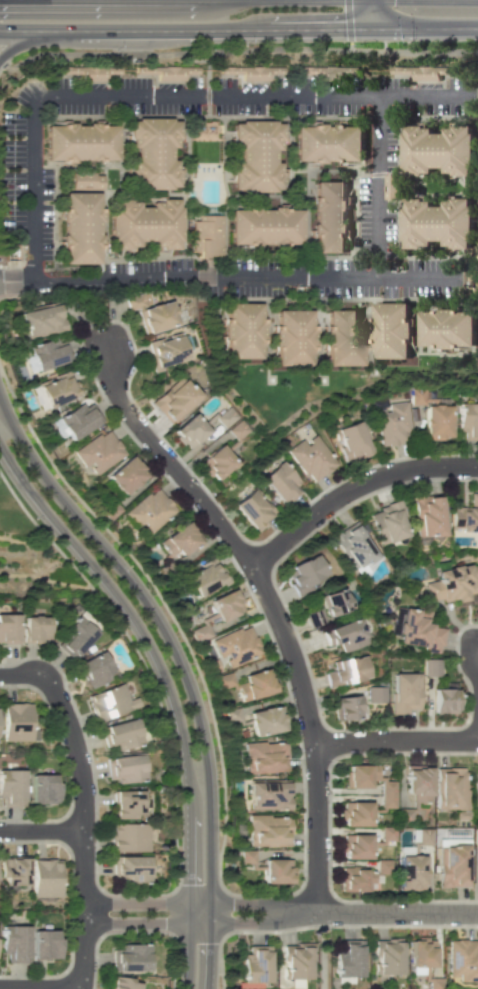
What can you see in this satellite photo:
road: (371, 14)
road: (347, 25)
traffic signals: (371, 28)
road: (424, 28)
road: (185, 29)
road: (30, 39)
street lamp: (115, 50)
road: (413, 51)
road: (177, 52)
road: (4, 64)
building: (168, 72)
building: (248, 72)
building: (424, 72)
road: (205, 92)
road: (419, 92)
park: (476, 126)
building: (204, 130)
building: (329, 141)
building: (80, 142)
building: (443, 146)
building: (152, 151)
building: (254, 151)
building: (86, 181)
building: (332, 214)
building: (145, 223)
building: (263, 223)
building: (441, 223)
building: (81, 224)
building: (205, 234)
road: (226, 276)
building: (150, 312)
building: (41, 320)
building: (241, 325)
building: (397, 327)
building: (449, 327)
building: (293, 333)
building: (345, 334)
building: (165, 351)
building: (49, 353)
building: (57, 389)
building: (419, 397)
building: (175, 400)
building: (224, 417)
building: (79, 419)
building: (468, 421)
building: (435, 422)
building: (392, 425)
building: (237, 429)
building: (189, 431)
building: (350, 441)
building: (98, 451)
building: (310, 458)
building: (216, 462)
road: (172, 465)
road: (4, 466)
building: (126, 474)
building: (281, 483)
road: (352, 488)
building: (253, 509)
building: (150, 510)
building: (428, 515)
building: (465, 516)
building: (387, 522)
building: (177, 541)
building: (355, 548)
park: (31, 558)
building: (304, 574)
building: (205, 577)
building: (452, 584)
building: (225, 605)
building: (329, 606)
building: (8, 628)
building: (34, 629)
building: (418, 630)
building: (345, 635)
building: (74, 637)
building: (235, 645)
building: (430, 667)
building: (94, 669)
road: (181, 670)
building: (346, 671)
road: (18, 674)
building: (255, 684)
road: (168, 691)
building: (404, 692)
building: (444, 700)
building: (110, 702)
building: (345, 707)
building: (232, 715)
building: (265, 720)
building: (16, 722)
road: (312, 734)
building: (120, 735)
road: (396, 742)
building: (264, 757)
building: (124, 768)
building: (356, 784)
building: (417, 784)
building: (11, 787)
building: (475, 787)
building: (43, 788)
building: (450, 788)
building: (268, 795)
building: (127, 804)
building: (354, 813)
road: (81, 825)
road: (41, 831)
building: (268, 831)
building: (423, 836)
building: (128, 837)
building: (475, 837)
building: (355, 846)
building: (246, 856)
building: (452, 865)
building: (130, 869)
building: (13, 870)
building: (276, 871)
building: (410, 872)
building: (362, 876)
building: (45, 877)
road: (185, 903)
road: (382, 911)
road: (185, 922)
building: (14, 943)
building: (44, 944)
road: (323, 950)
building: (421, 954)
building: (387, 956)
building: (130, 957)
park: (322, 958)
building: (348, 958)
building: (462, 959)
building: (296, 960)
building: (256, 964)
park: (173, 974)
building: (122, 983)
road: (40, 988)

